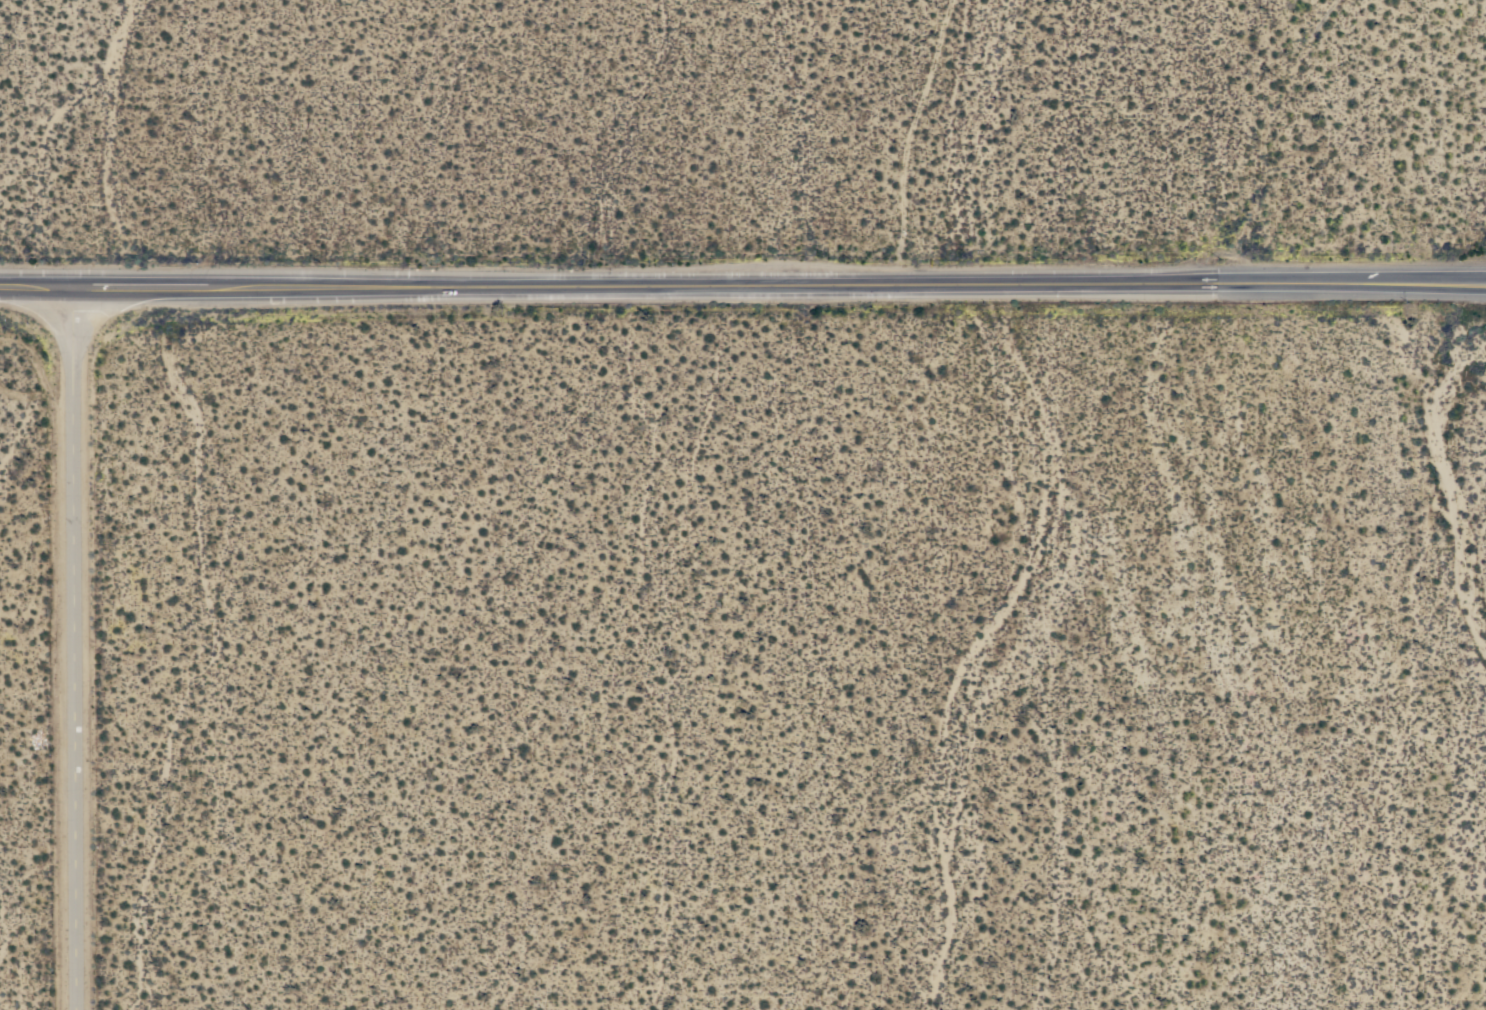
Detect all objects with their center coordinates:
road: (1466, 278)
road: (1466, 280)
road: (723, 284)
road: (76, 649)

